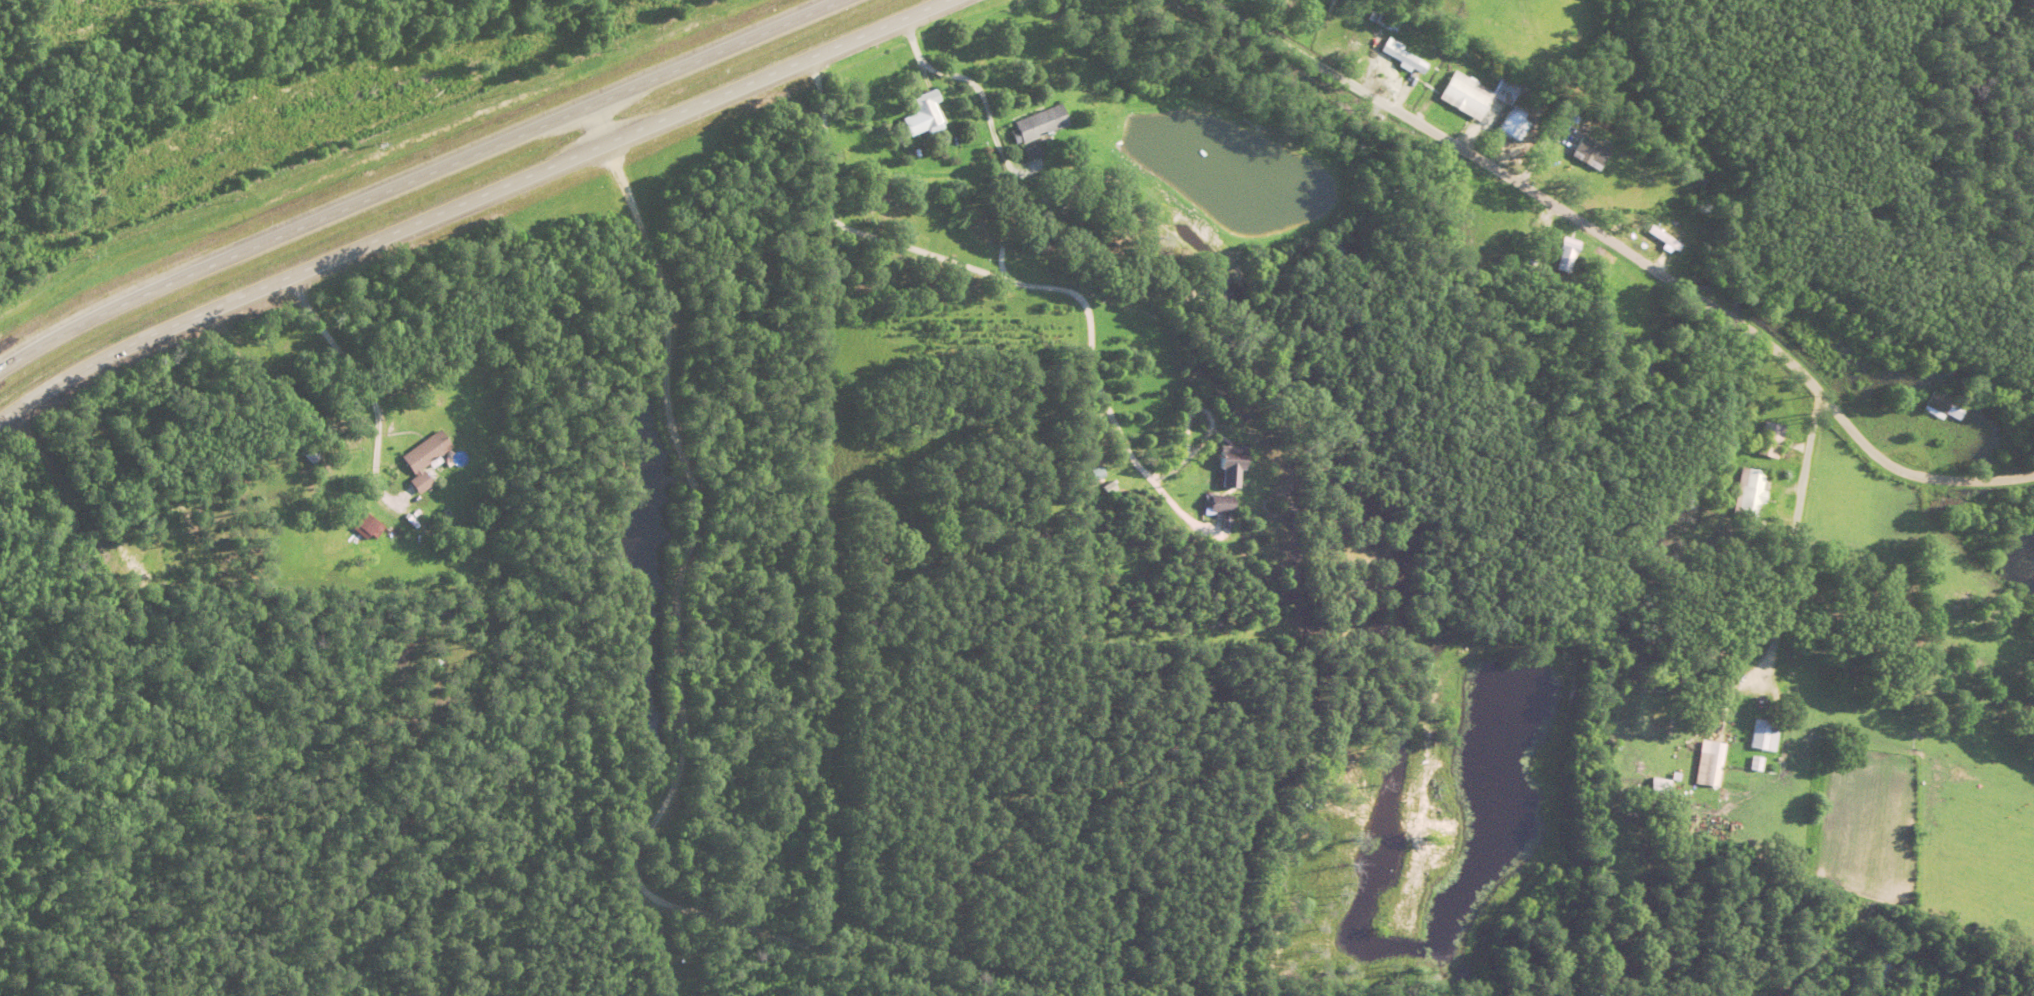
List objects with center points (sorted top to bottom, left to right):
road: (409, 175)
road: (463, 201)
road: (1628, 251)
road: (572, 857)

